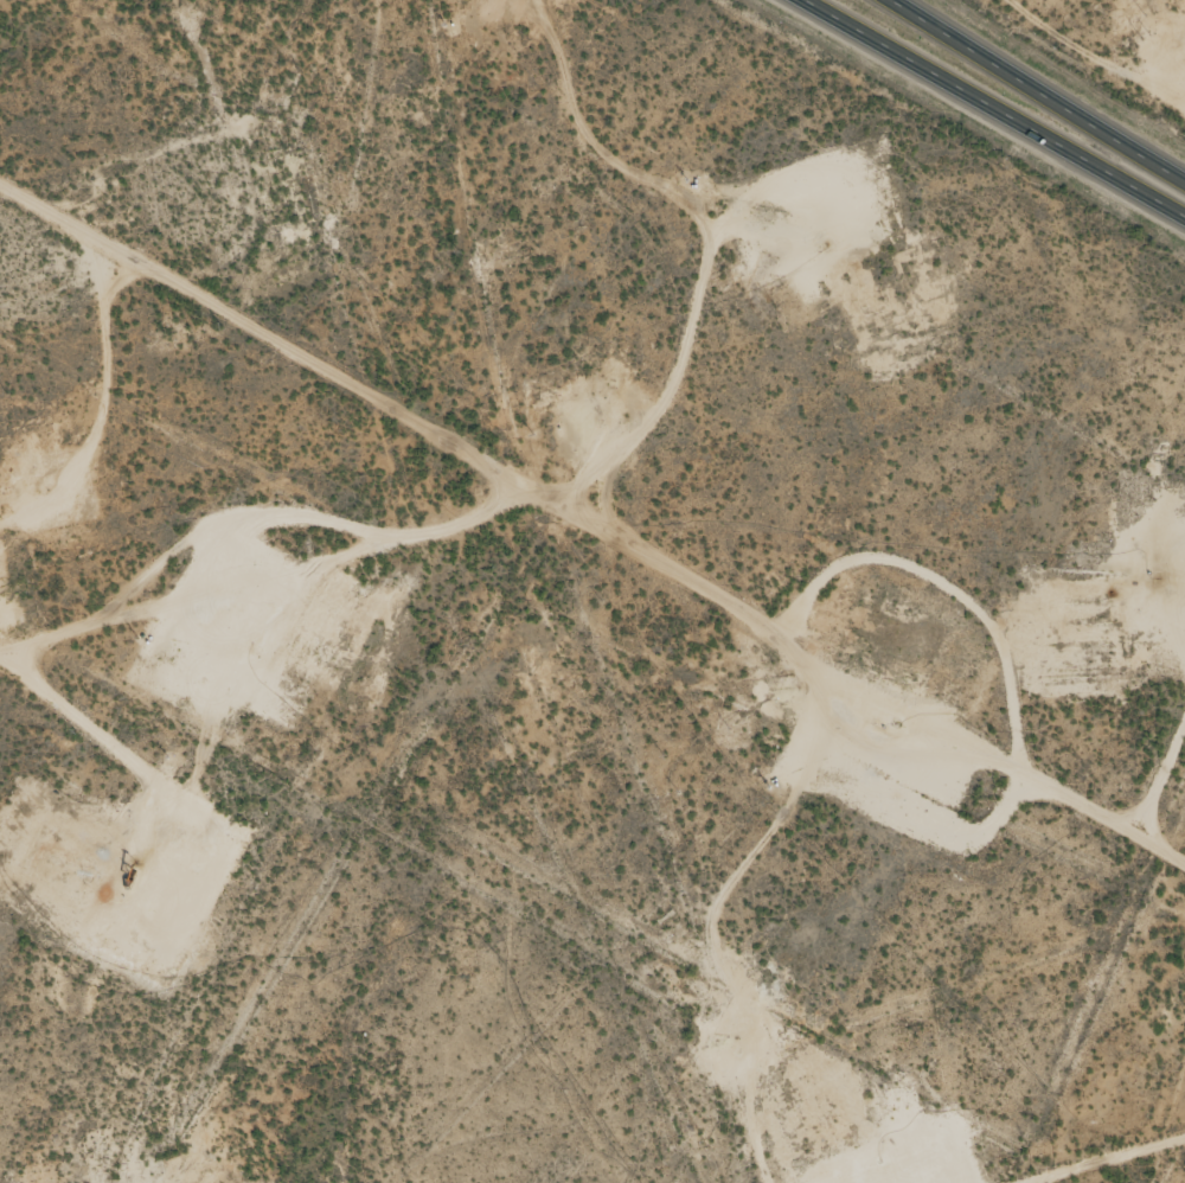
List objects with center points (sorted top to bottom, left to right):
road: (1033, 91)
road: (994, 108)
road: (592, 522)

